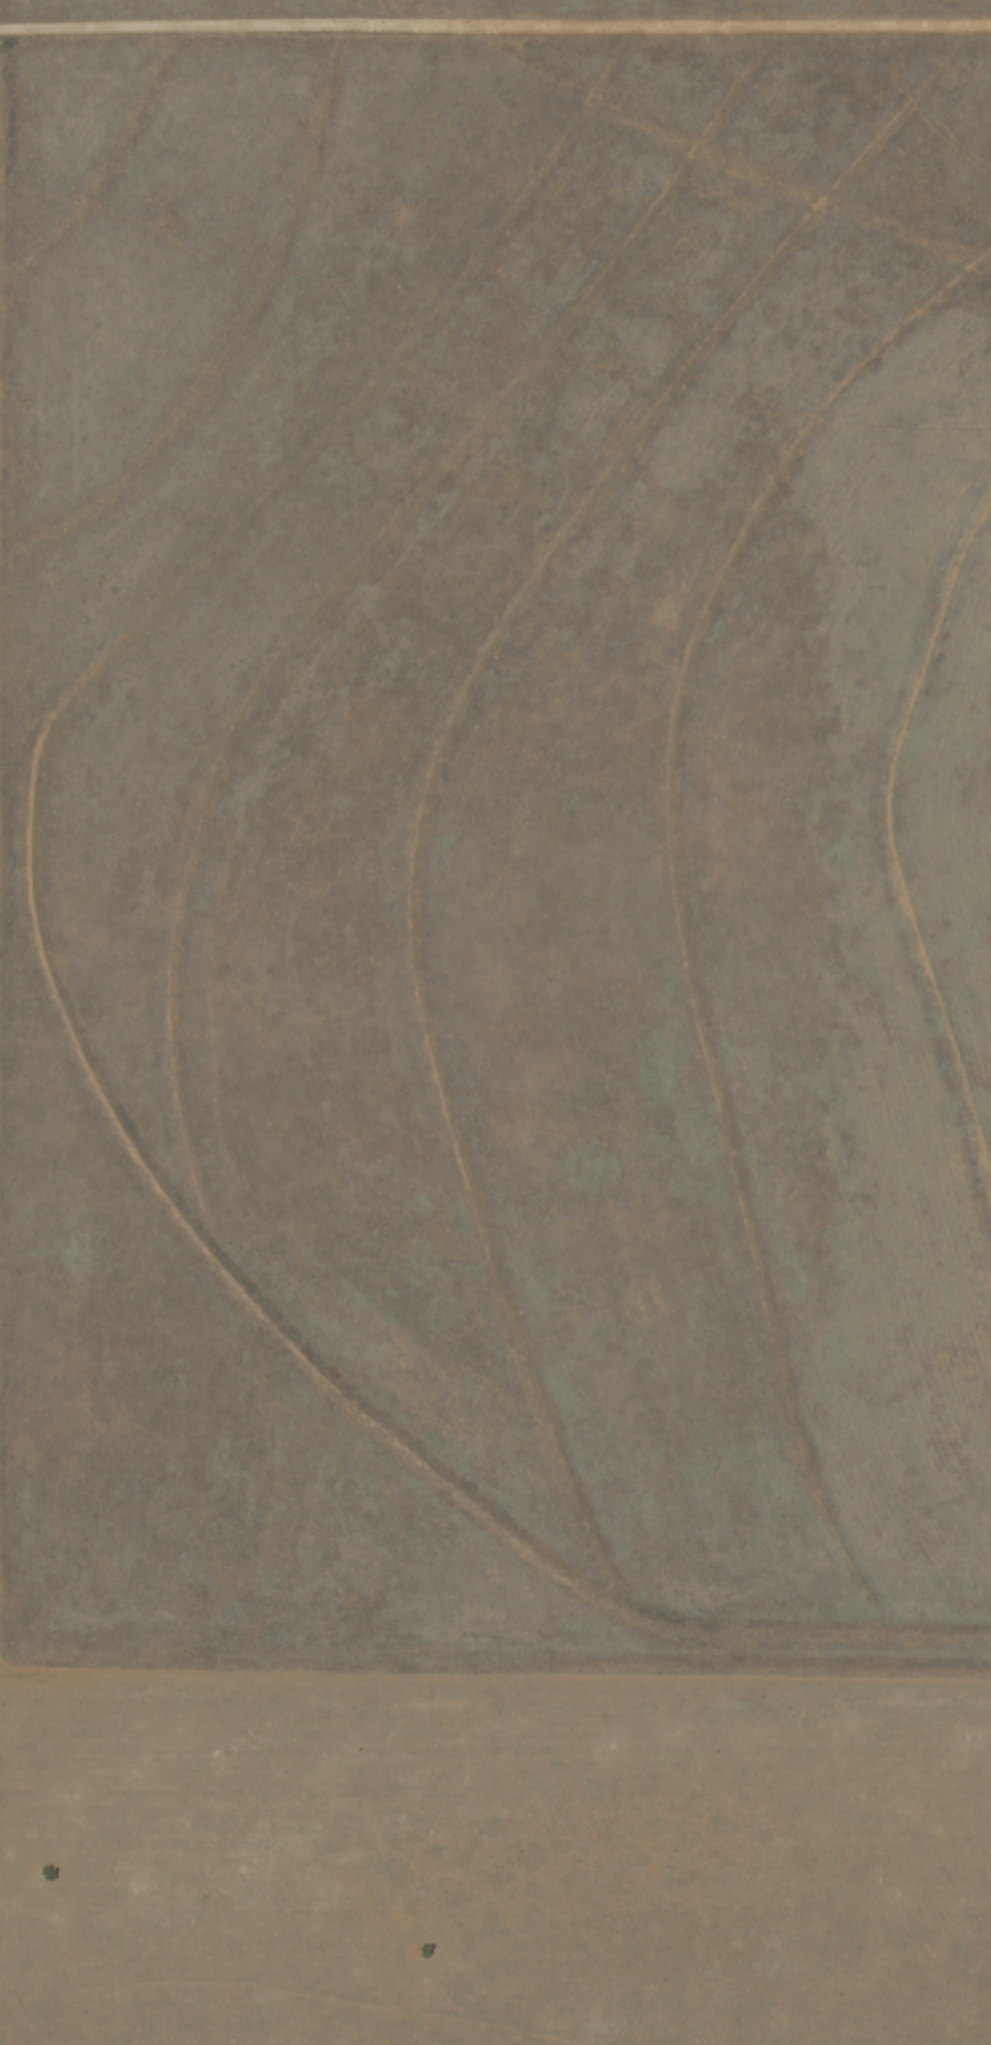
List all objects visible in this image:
road: (495, 34)

